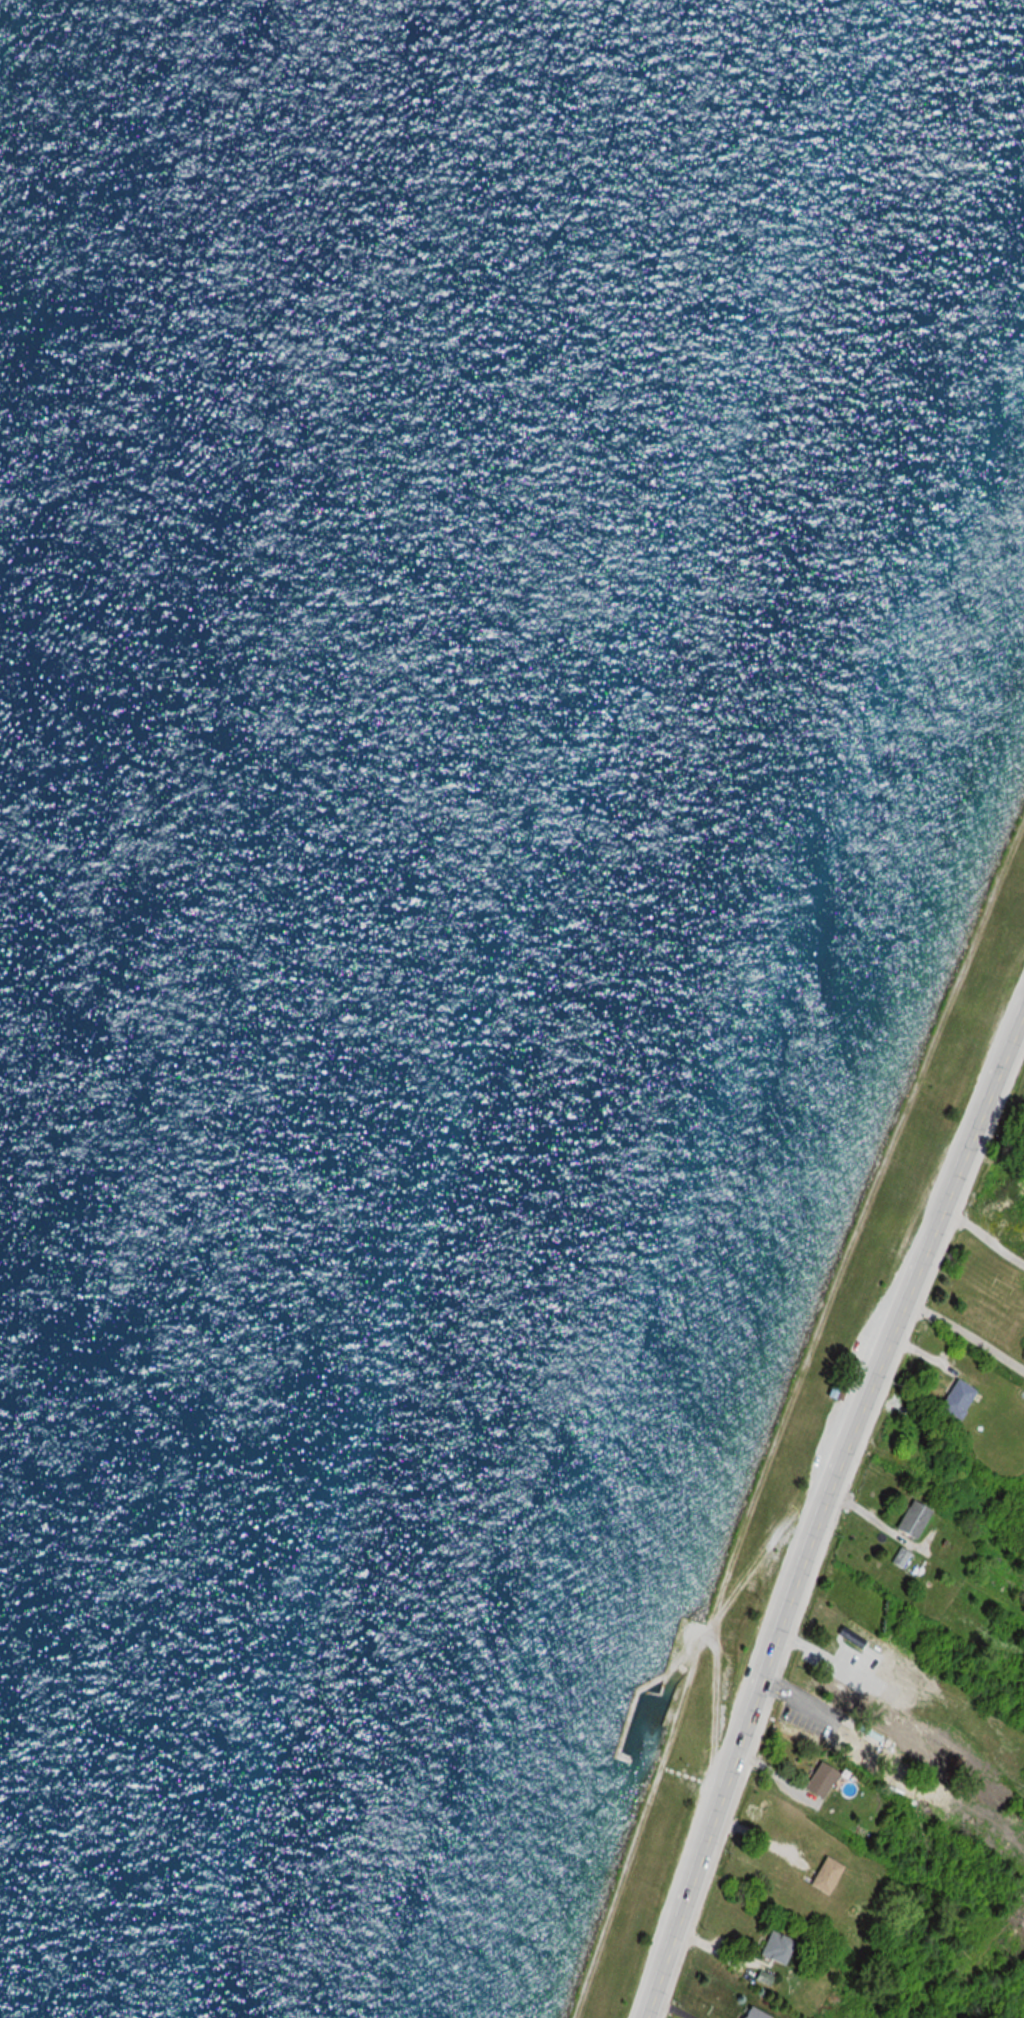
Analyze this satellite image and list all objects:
river: (210, 569)
road: (823, 1512)

